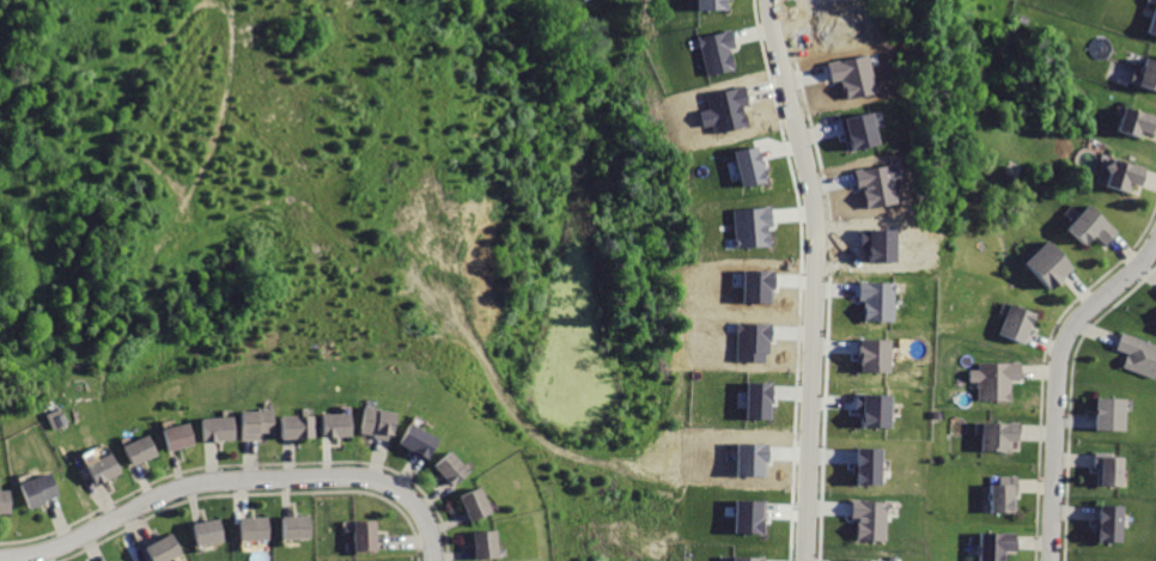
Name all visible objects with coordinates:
building: (710, 5)
building: (1152, 20)
building: (717, 51)
building: (853, 74)
building: (1145, 74)
building: (1133, 122)
building: (858, 130)
building: (749, 165)
building: (1119, 175)
building: (876, 184)
building: (752, 226)
building: (1090, 228)
building: (1042, 264)
road: (816, 278)
building: (756, 287)
building: (876, 299)
building: (1155, 321)
building: (1010, 322)
building: (871, 353)
building: (1137, 355)
building: (990, 379)
road: (1057, 384)
building: (756, 400)
building: (874, 409)
building: (1108, 414)
building: (55, 417)
building: (258, 422)
building: (377, 422)
building: (334, 423)
building: (298, 426)
building: (223, 428)
building: (181, 435)
building: (993, 435)
building: (416, 441)
building: (142, 450)
building: (749, 461)
building: (866, 467)
building: (1103, 468)
building: (107, 469)
building: (446, 469)
road: (236, 483)
building: (41, 489)
building: (999, 495)
building: (7, 501)
building: (470, 505)
building: (1111, 513)
building: (748, 516)
building: (869, 519)
building: (300, 526)
building: (258, 528)
building: (214, 531)
building: (360, 536)
building: (479, 544)
building: (990, 545)
building: (166, 549)
building: (741, 559)
building: (864, 560)
building: (1101, 560)

